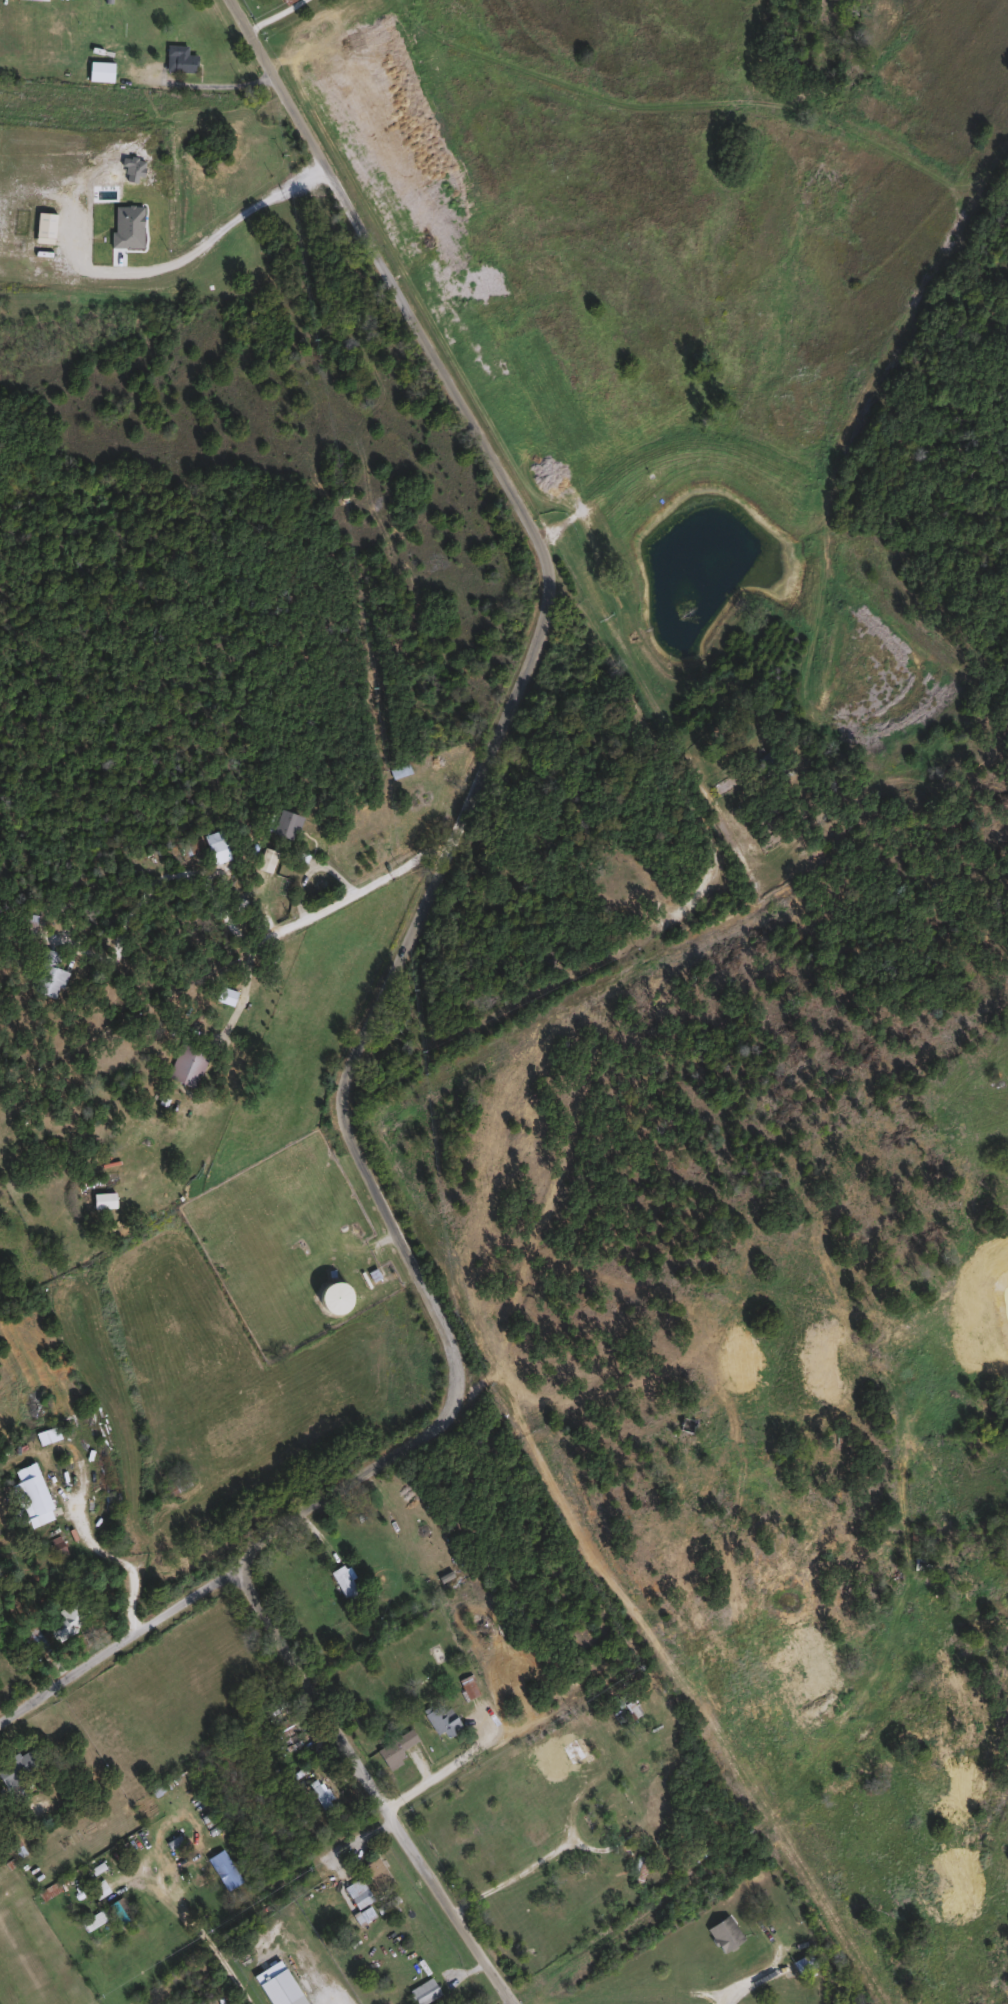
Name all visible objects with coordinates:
road: (279, 15)
building: (179, 57)
building: (100, 69)
road: (203, 85)
road: (209, 237)
building: (400, 770)
road: (471, 811)
building: (284, 823)
building: (217, 843)
building: (265, 859)
building: (28, 922)
road: (265, 939)
building: (49, 973)
building: (187, 1065)
road: (104, 1171)
building: (331, 1298)
building: (175, 1484)
building: (32, 1492)
road: (120, 1559)
building: (921, 1562)
building: (344, 1581)
building: (69, 1615)
building: (31, 1637)
road: (119, 1641)
building: (467, 1685)
building: (624, 1711)
building: (440, 1718)
building: (395, 1746)
building: (575, 1748)
building: (19, 1765)
road: (442, 1773)
road: (379, 1781)
building: (318, 1793)
building: (222, 1868)
building: (377, 1874)
road: (514, 1875)
building: (357, 1892)
building: (109, 1913)
road: (199, 1931)
building: (722, 1932)
building: (802, 1962)
road: (302, 1967)
road: (746, 1981)
building: (280, 1988)
building: (422, 1991)

